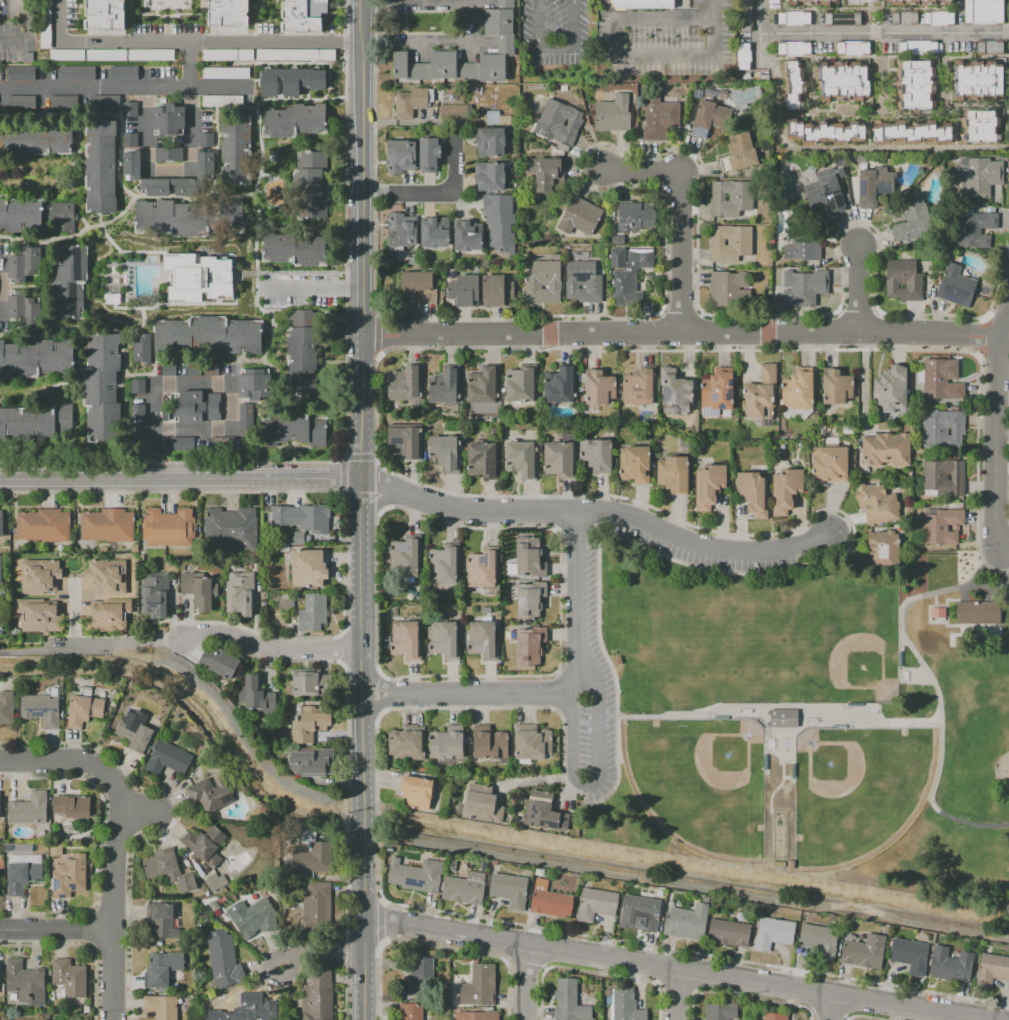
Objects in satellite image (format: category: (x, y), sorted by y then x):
building: (773, 1)
building: (809, 2)
building: (643, 3)
building: (911, 3)
building: (302, 7)
road: (710, 9)
building: (983, 10)
building: (227, 13)
building: (103, 14)
building: (744, 16)
building: (793, 18)
building: (903, 18)
building: (938, 18)
building: (841, 19)
road: (473, 23)
building: (44, 24)
road: (28, 35)
road: (886, 35)
road: (763, 39)
building: (505, 41)
road: (191, 43)
road: (557, 46)
building: (989, 47)
road: (605, 48)
building: (794, 48)
building: (852, 48)
building: (918, 48)
building: (66, 54)
building: (105, 54)
building: (149, 54)
building: (226, 54)
building: (293, 54)
building: (743, 56)
road: (189, 65)
building: (224, 71)
building: (77, 72)
building: (123, 72)
building: (21, 73)
building: (977, 80)
building: (290, 81)
building: (843, 81)
building: (792, 85)
building: (916, 85)
road: (94, 87)
building: (608, 87)
road: (219, 88)
building: (625, 88)
building: (744, 96)
building: (105, 101)
building: (410, 102)
building: (63, 103)
building: (21, 104)
building: (129, 109)
building: (207, 110)
building: (454, 111)
building: (612, 114)
building: (712, 115)
building: (658, 116)
building: (168, 119)
building: (294, 120)
building: (504, 120)
building: (558, 122)
building: (980, 126)
building: (824, 132)
building: (910, 132)
building: (37, 139)
building: (129, 139)
building: (206, 139)
building: (490, 141)
building: (234, 145)
road: (858, 149)
building: (738, 152)
building: (429, 154)
building: (167, 155)
building: (400, 156)
building: (204, 162)
building: (131, 164)
building: (100, 166)
road: (167, 172)
building: (547, 174)
building: (490, 176)
building: (978, 176)
building: (873, 185)
building: (155, 186)
building: (312, 187)
building: (825, 189)
road: (437, 193)
building: (730, 197)
building: (20, 215)
building: (635, 215)
road: (682, 215)
building: (62, 216)
building: (579, 216)
building: (187, 217)
building: (912, 219)
building: (500, 221)
building: (402, 229)
building: (974, 229)
building: (434, 232)
building: (467, 235)
building: (615, 235)
building: (729, 242)
building: (803, 242)
building: (294, 249)
building: (23, 263)
building: (627, 273)
building: (196, 277)
building: (903, 280)
building: (582, 281)
building: (70, 282)
building: (543, 282)
building: (419, 285)
building: (956, 286)
building: (803, 287)
road: (0, 288)
road: (312, 288)
building: (728, 289)
building: (496, 290)
building: (464, 291)
road: (859, 291)
building: (24, 309)
road: (1004, 323)
road: (681, 334)
building: (208, 336)
road: (377, 336)
building: (141, 348)
building: (302, 350)
building: (36, 358)
building: (192, 368)
building: (210, 368)
building: (168, 369)
road: (863, 381)
building: (940, 381)
road: (203, 383)
building: (403, 383)
building: (254, 384)
building: (521, 384)
building: (443, 385)
building: (482, 385)
building: (560, 385)
building: (139, 386)
building: (598, 386)
building: (638, 386)
building: (836, 386)
building: (891, 388)
building: (102, 389)
building: (799, 389)
building: (717, 390)
building: (673, 392)
building: (761, 393)
building: (197, 407)
building: (139, 411)
building: (245, 416)
building: (34, 423)
building: (942, 429)
building: (292, 430)
building: (138, 436)
building: (404, 441)
building: (179, 443)
road: (997, 444)
building: (886, 449)
building: (444, 452)
building: (596, 453)
road: (360, 457)
building: (521, 457)
building: (560, 459)
building: (483, 460)
building: (830, 462)
building: (635, 464)
building: (672, 473)
road: (342, 476)
building: (943, 478)
road: (179, 480)
building: (708, 486)
building: (787, 489)
building: (753, 493)
road: (378, 502)
building: (876, 503)
road: (359, 509)
road: (597, 510)
building: (303, 517)
building: (0, 523)
building: (43, 525)
building: (107, 525)
building: (942, 526)
building: (168, 527)
building: (231, 528)
building: (292, 536)
building: (307, 538)
road: (1005, 549)
building: (881, 552)
building: (405, 555)
building: (529, 557)
building: (444, 563)
building: (308, 567)
building: (482, 567)
building: (0, 576)
building: (39, 576)
building: (106, 576)
road: (989, 585)
road: (577, 589)
building: (199, 590)
building: (154, 594)
building: (239, 594)
road: (989, 594)
road: (964, 595)
building: (530, 599)
building: (283, 600)
road: (936, 600)
road: (949, 610)
building: (312, 611)
road: (74, 612)
road: (929, 614)
building: (940, 614)
building: (981, 614)
building: (39, 615)
building: (107, 615)
building: (0, 616)
park: (696, 631)
building: (406, 639)
building: (444, 640)
building: (482, 640)
park: (830, 640)
road: (94, 643)
building: (530, 646)
road: (344, 648)
road: (268, 649)
road: (4, 653)
parking lot: (594, 660)
building: (617, 660)
building: (220, 661)
road: (927, 674)
road: (376, 680)
building: (310, 682)
road: (380, 682)
road: (380, 693)
road: (483, 694)
building: (255, 695)
road: (380, 704)
road: (377, 705)
building: (6, 707)
building: (83, 708)
road: (770, 708)
building: (41, 709)
building: (786, 719)
park: (814, 722)
building: (308, 724)
road: (792, 730)
building: (133, 732)
road: (773, 732)
building: (531, 741)
building: (407, 742)
building: (446, 742)
building: (489, 742)
road: (248, 745)
road: (792, 746)
road: (781, 756)
building: (168, 758)
building: (311, 761)
park: (700, 783)
road: (588, 790)
building: (416, 792)
park: (858, 792)
building: (210, 794)
building: (481, 804)
building: (72, 805)
building: (29, 809)
road: (133, 811)
building: (544, 812)
building: (0, 813)
road: (113, 835)
building: (204, 844)
road: (949, 852)
building: (54, 853)
building: (313, 858)
building: (168, 869)
building: (22, 871)
building: (416, 875)
building: (70, 876)
building: (215, 881)
building: (464, 888)
building: (509, 890)
building: (549, 900)
building: (595, 904)
building: (315, 911)
building: (639, 913)
building: (252, 917)
road: (380, 921)
building: (162, 922)
building: (686, 922)
road: (56, 930)
building: (773, 932)
building: (729, 933)
building: (819, 940)
building: (864, 951)
road: (320, 952)
building: (909, 955)
building: (223, 959)
building: (951, 965)
building: (162, 967)
road: (666, 969)
building: (992, 970)
building: (0, 975)
building: (419, 976)
building: (68, 977)
building: (25, 982)
road: (525, 983)
building: (479, 985)
building: (317, 995)
road: (676, 995)
building: (569, 1001)
building: (625, 1005)
building: (161, 1006)
building: (250, 1008)
road: (828, 1008)
building: (410, 1011)
building: (720, 1011)
building: (482, 1015)
building: (775, 1016)

